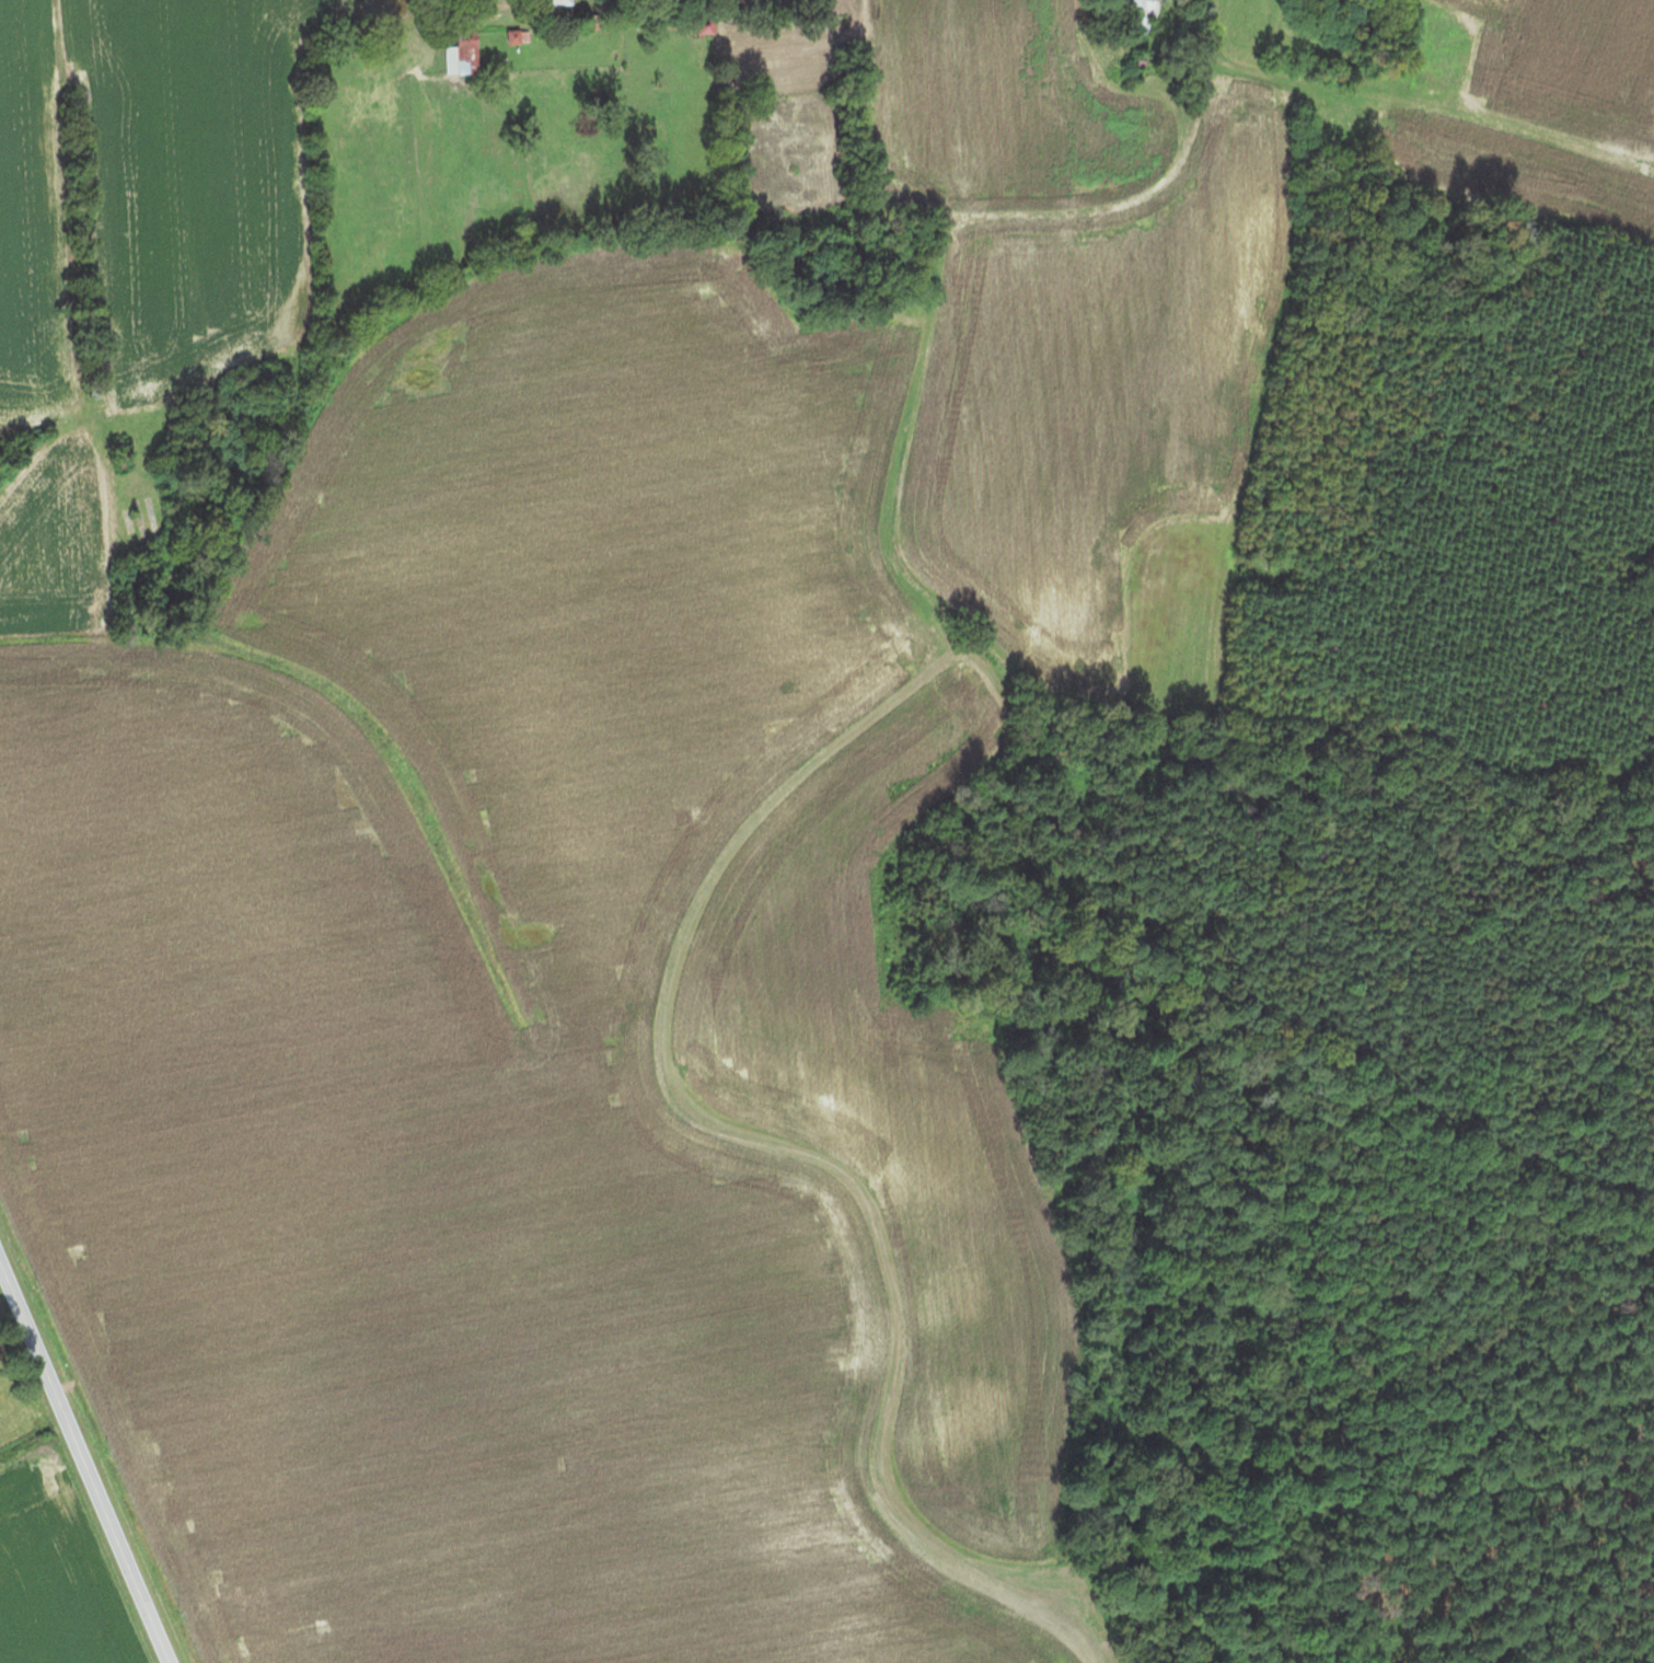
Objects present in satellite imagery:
building: (550, 2)
building: (1136, 14)
building: (693, 20)
building: (510, 36)
building: (458, 53)
road: (1407, 146)
road: (73, 206)
road: (1031, 220)
road: (346, 351)
building: (119, 452)
road: (84, 1462)

